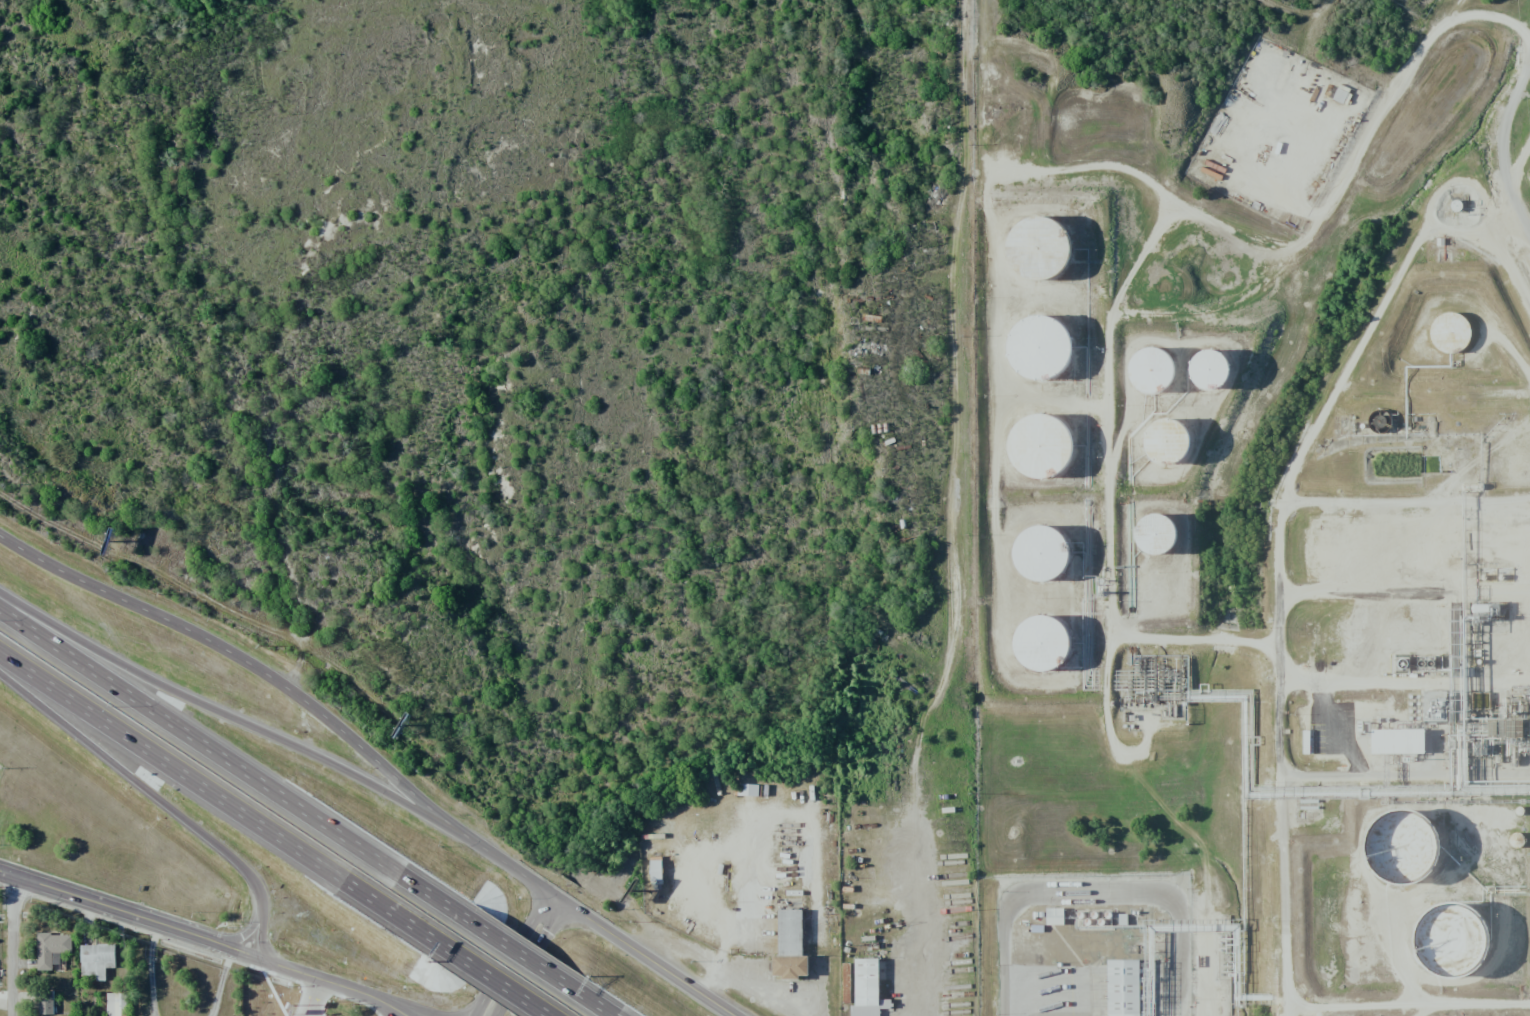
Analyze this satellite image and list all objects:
road: (1521, 94)
road: (1501, 143)
building: (1040, 259)
storage tank: (1040, 259)
building: (1452, 337)
storage tank: (1452, 337)
building: (1037, 359)
storage tank: (1037, 359)
building: (1155, 384)
storage tank: (1155, 384)
building: (1214, 384)
storage tank: (1214, 384)
building: (1170, 457)
storage tank: (1170, 457)
building: (1041, 460)
storage tank: (1041, 460)
building: (1159, 550)
storage tank: (1159, 550)
road: (1287, 554)
building: (1041, 565)
storage tank: (1041, 565)
building: (1044, 659)
storage tank: (1044, 659)
road: (295, 694)
road: (242, 721)
building: (1529, 722)
building: (1404, 746)
road: (230, 763)
road: (129, 772)
building: (748, 790)
road: (220, 800)
building: (1417, 859)
storage tank: (1417, 859)
building: (655, 870)
road: (127, 912)
building: (1054, 916)
road: (259, 919)
road: (13, 945)
building: (790, 946)
building: (1460, 950)
storage tank: (1460, 950)
building: (53, 951)
road: (518, 953)
road: (528, 954)
road: (648, 958)
building: (97, 960)
road: (494, 980)
road: (333, 983)
building: (846, 983)
building: (866, 988)
building: (1126, 991)
road: (594, 1003)
building: (46, 1004)
building: (116, 1004)
road: (399, 1010)
road: (408, 1010)
road: (479, 1011)
road: (489, 1011)

